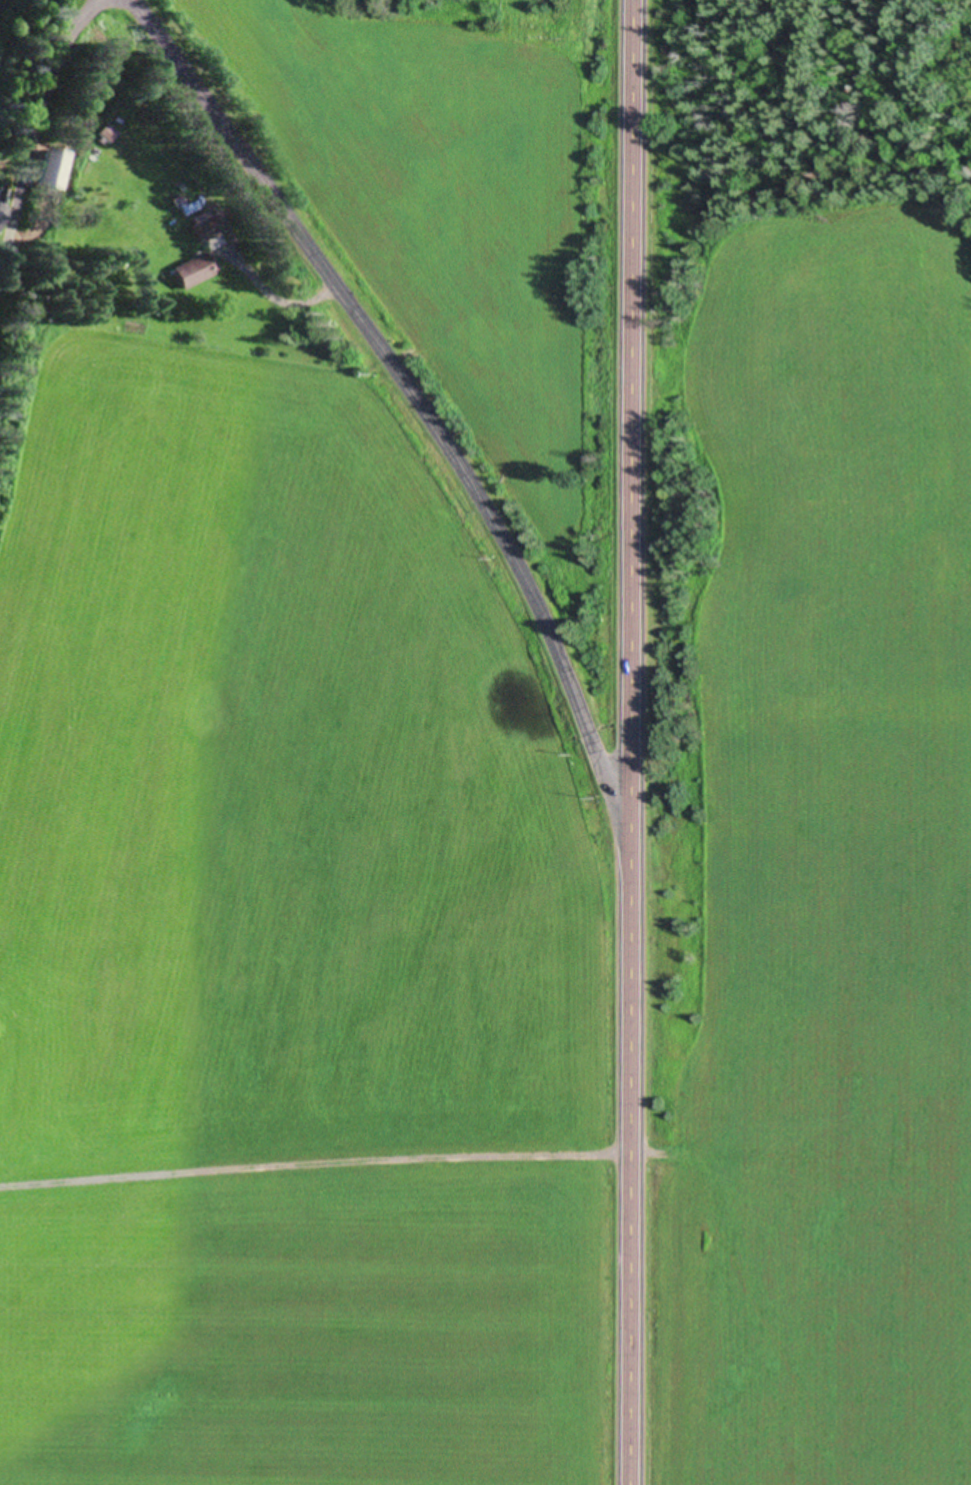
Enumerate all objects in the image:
building: (106, 132)
road: (51, 184)
building: (4, 204)
building: (184, 205)
building: (205, 228)
building: (196, 269)
road: (421, 423)
road: (651, 742)
road: (326, 1162)

